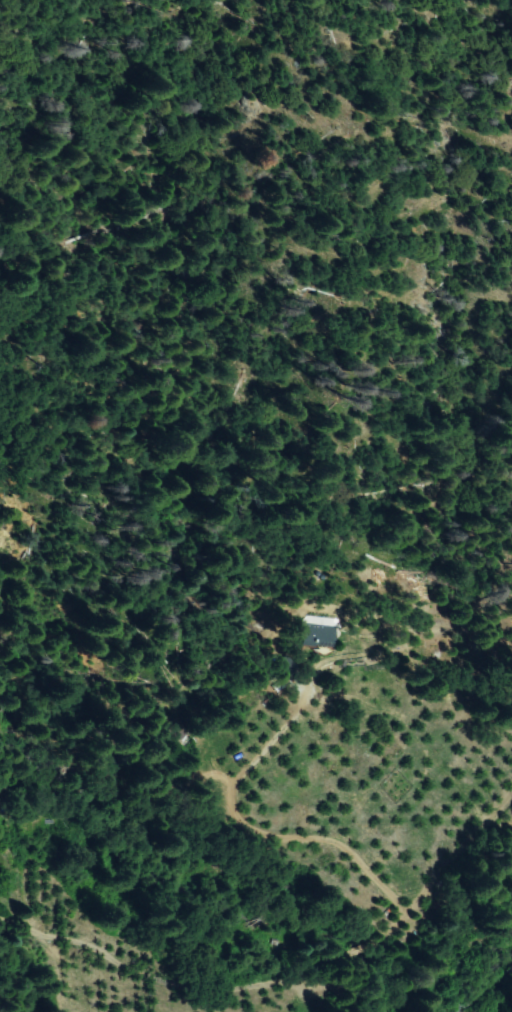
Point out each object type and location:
building: (320, 634)
building: (285, 668)
building: (172, 733)
river: (467, 974)
road: (136, 979)
road: (17, 988)

